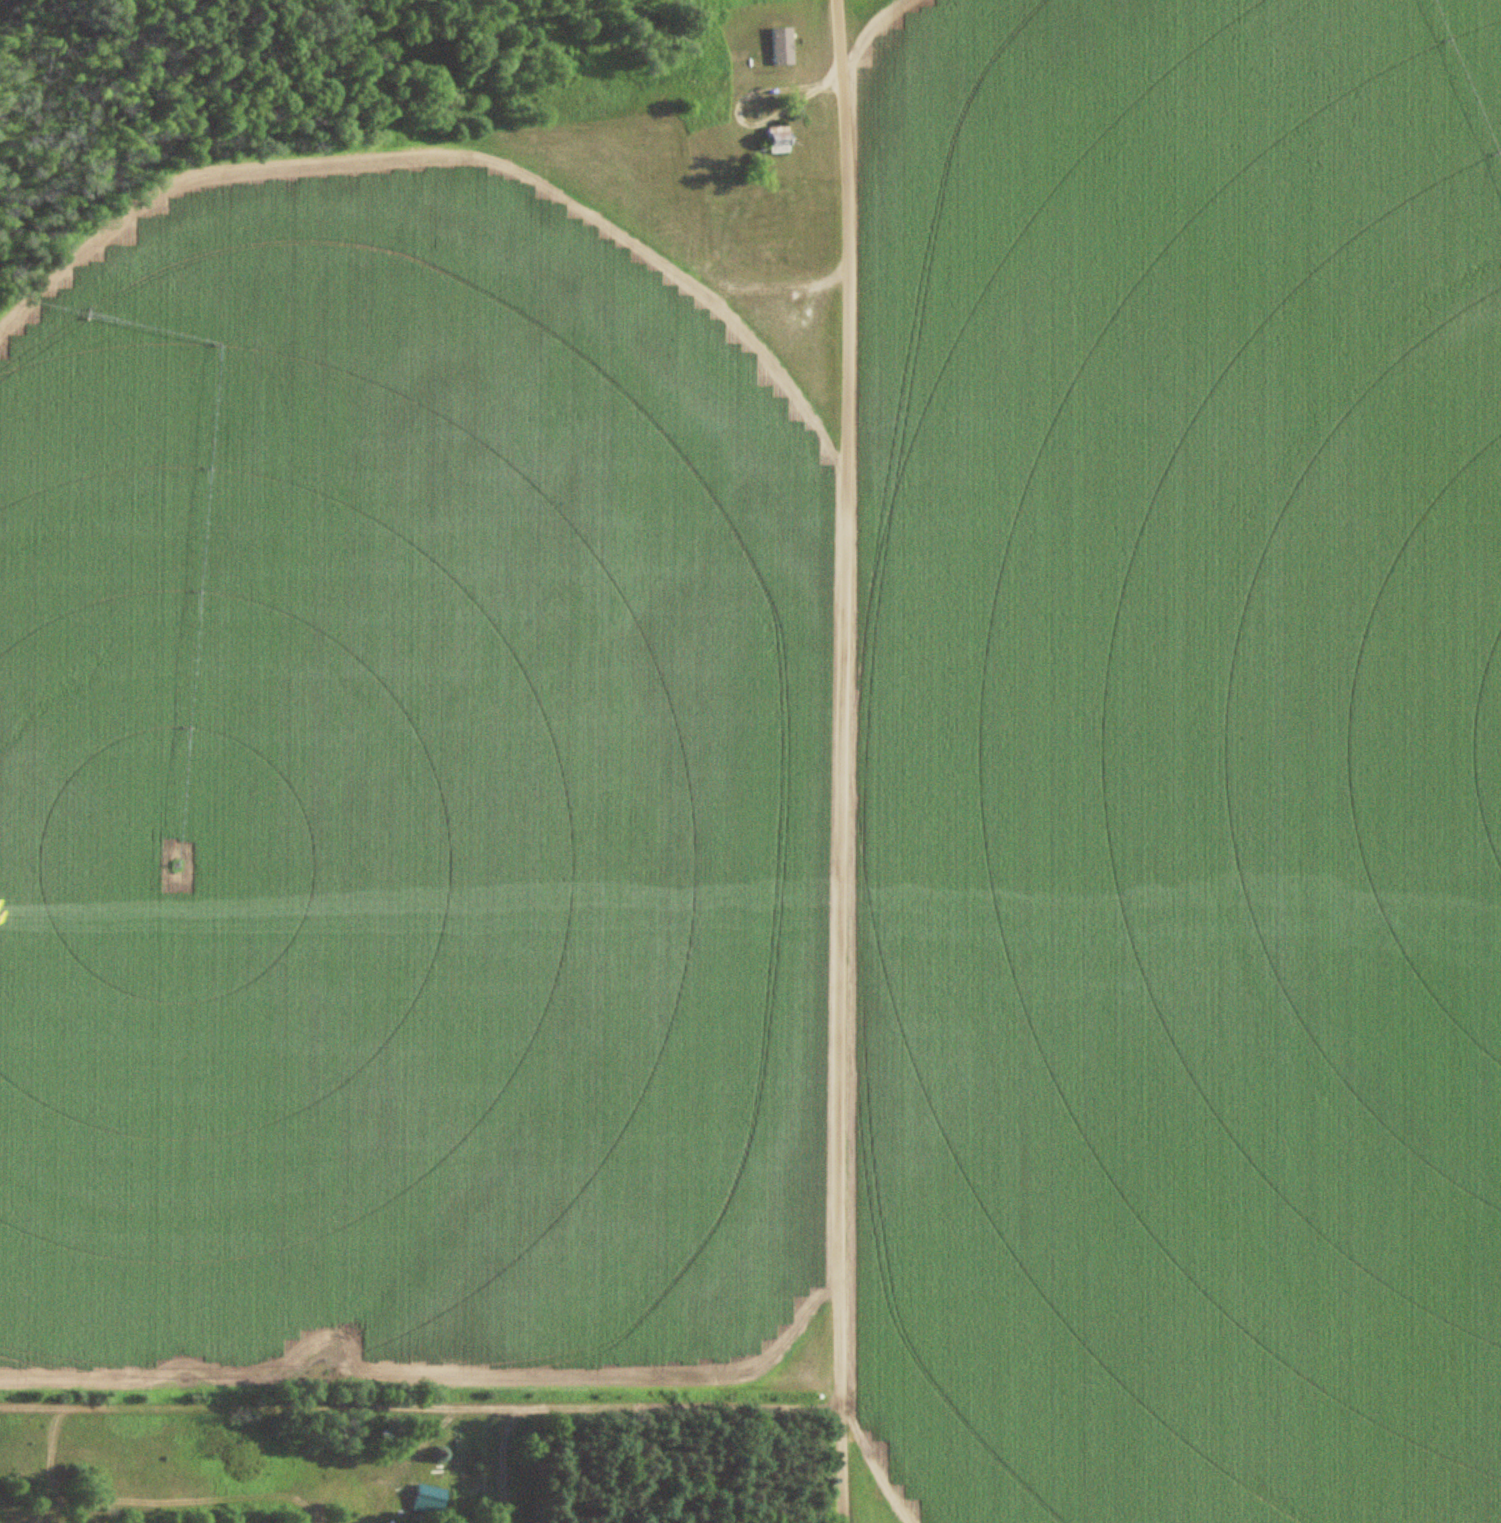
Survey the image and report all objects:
building: (779, 45)
road: (740, 113)
building: (771, 141)
road: (836, 761)

